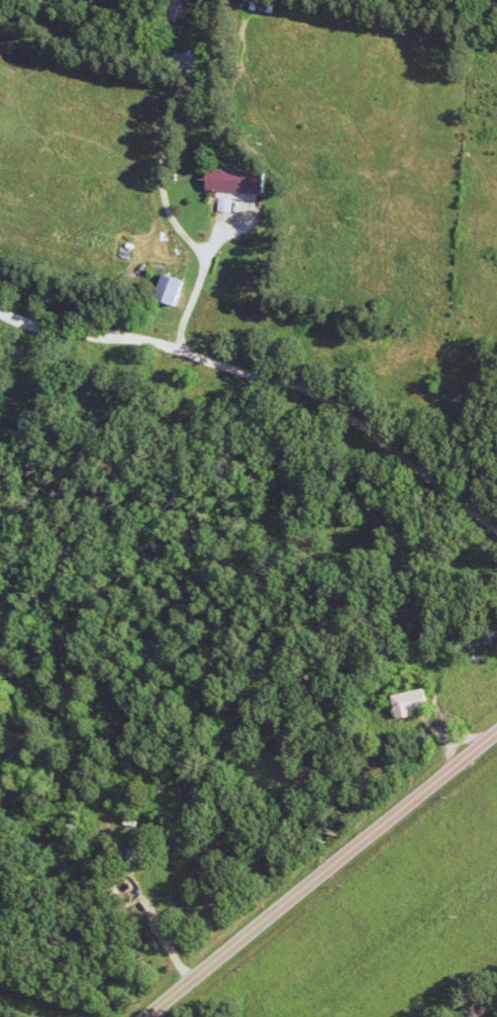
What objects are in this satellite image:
building: (176, 8)
building: (239, 186)
road: (202, 279)
building: (173, 290)
road: (266, 379)
building: (414, 703)
road: (319, 874)

